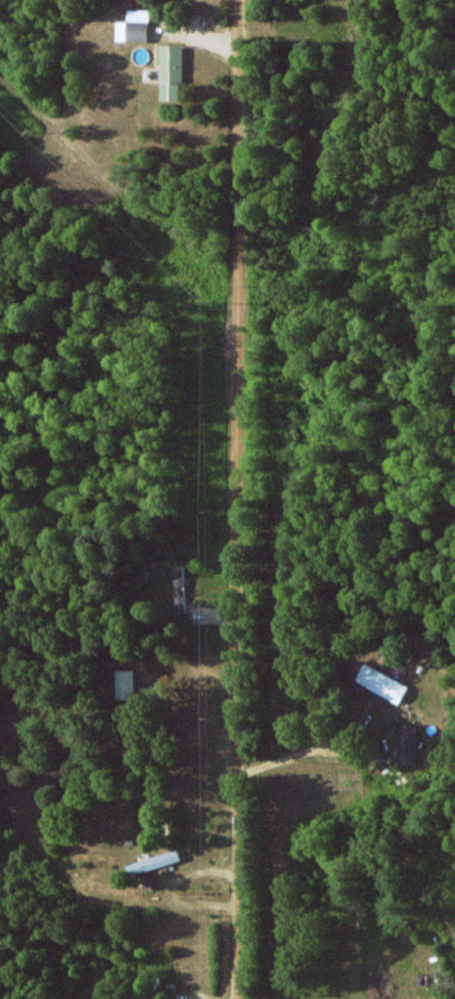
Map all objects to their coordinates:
building: (136, 28)
building: (171, 74)
road: (234, 499)
building: (179, 588)
building: (381, 683)
building: (125, 684)
building: (406, 743)
building: (153, 862)

